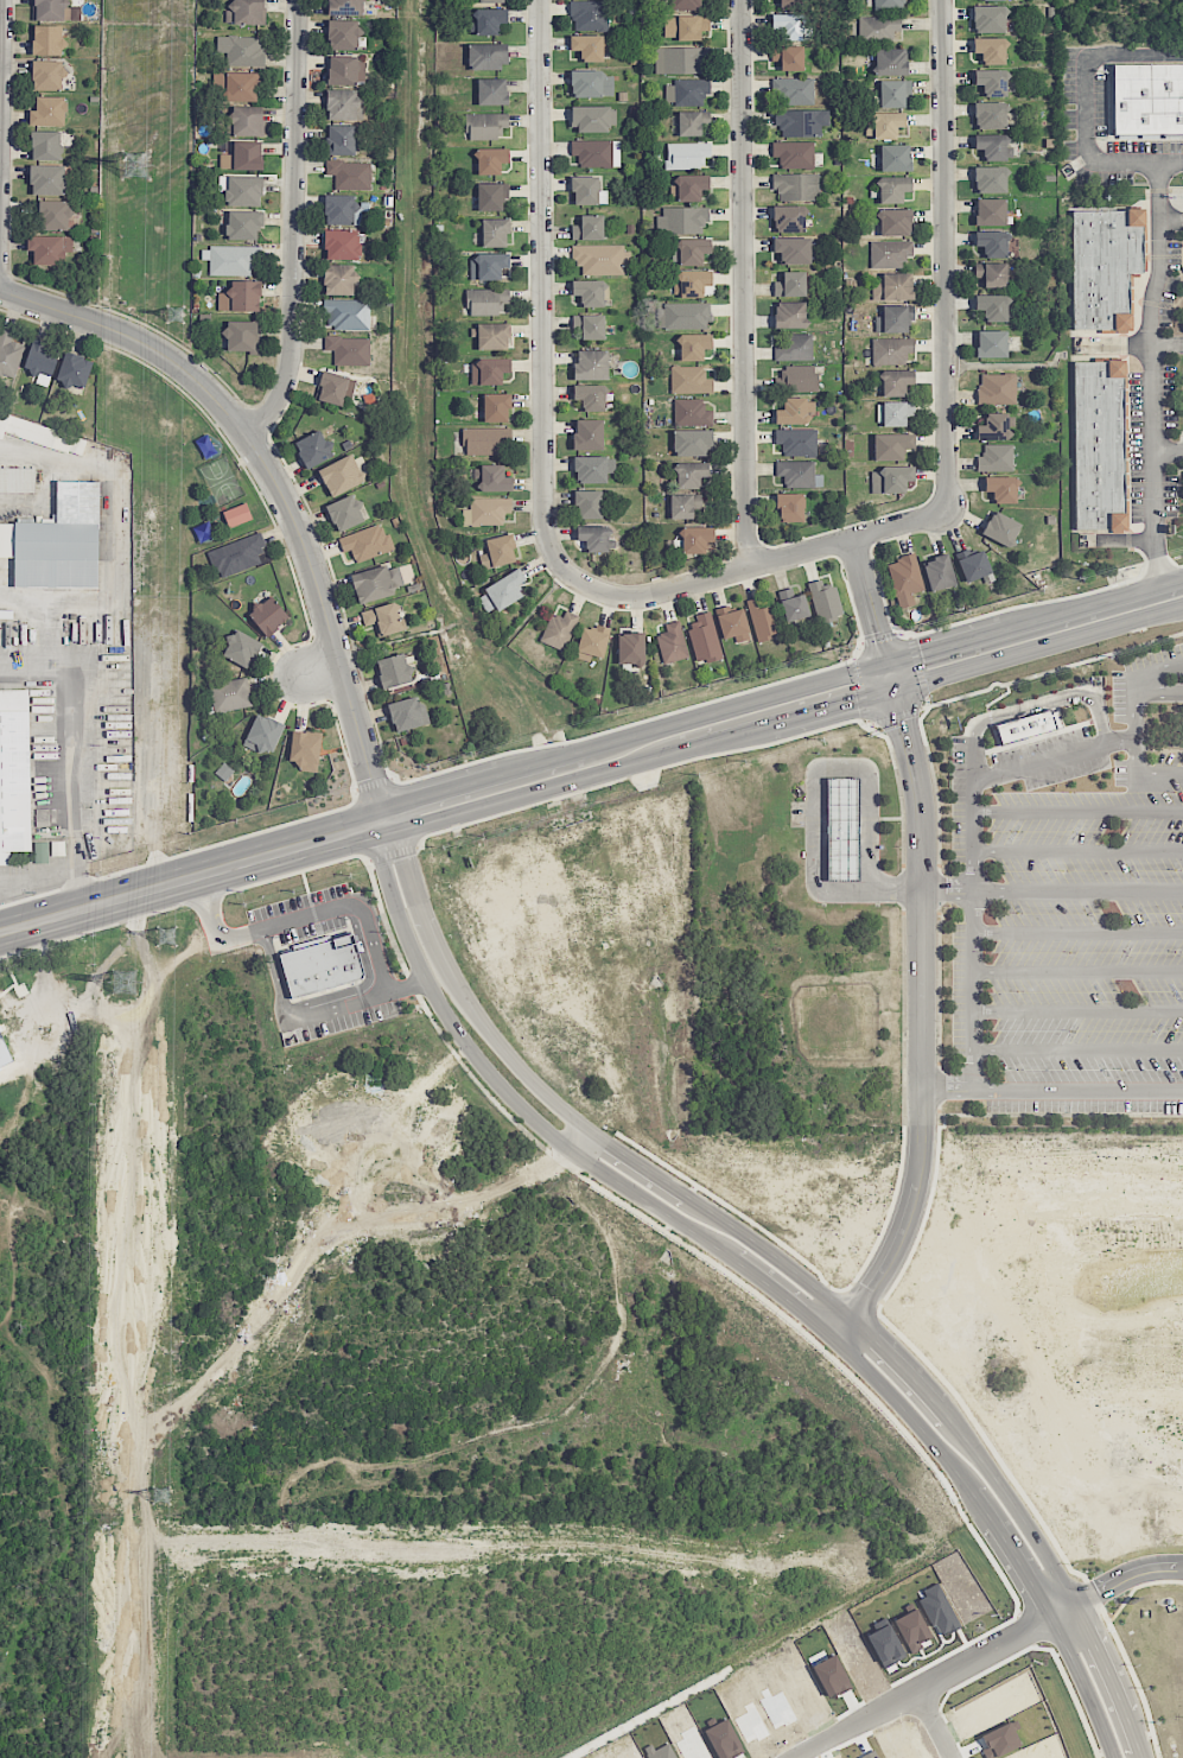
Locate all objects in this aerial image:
building: (998, 0)
building: (490, 1)
building: (685, 4)
building: (789, 4)
building: (888, 5)
building: (345, 7)
building: (51, 9)
building: (246, 12)
building: (589, 14)
building: (988, 18)
building: (486, 20)
building: (685, 26)
building: (789, 26)
building: (877, 28)
building: (342, 34)
building: (47, 39)
building: (587, 46)
building: (241, 49)
building: (990, 49)
building: (488, 56)
building: (788, 57)
building: (680, 59)
building: (890, 62)
building: (345, 70)
building: (47, 75)
building: (586, 82)
building: (991, 82)
building: (241, 87)
building: (794, 90)
building: (491, 91)
building: (686, 91)
building: (892, 93)
building: (1147, 97)
parking lot: (1071, 100)
parking lot: (1101, 103)
building: (343, 104)
road: (1087, 107)
building: (49, 112)
building: (990, 115)
road: (2, 119)
building: (590, 119)
building: (244, 120)
building: (692, 122)
building: (801, 122)
building: (485, 125)
building: (886, 125)
building: (339, 139)
building: (45, 145)
parking lot: (1145, 145)
building: (990, 146)
building: (592, 153)
building: (793, 153)
building: (686, 154)
building: (242, 156)
building: (895, 157)
building: (490, 160)
power tower: (140, 161)
building: (349, 173)
parking lot: (1106, 177)
building: (47, 179)
building: (988, 179)
building: (795, 186)
building: (892, 189)
building: (243, 190)
building: (585, 190)
building: (490, 197)
building: (341, 210)
building: (988, 211)
building: (53, 215)
building: (788, 217)
building: (681, 220)
building: (893, 221)
road: (1172, 222)
building: (243, 224)
road: (288, 224)
building: (587, 228)
building: (494, 233)
building: (991, 243)
building: (342, 245)
building: (49, 248)
building: (791, 249)
building: (689, 250)
building: (889, 253)
road: (946, 254)
building: (598, 258)
building: (233, 260)
building: (1104, 264)
building: (488, 265)
building: (991, 273)
building: (338, 279)
parking lot: (1174, 279)
building: (692, 283)
building: (790, 284)
road: (743, 285)
building: (891, 286)
building: (589, 292)
road: (542, 293)
building: (240, 297)
building: (486, 300)
building: (991, 306)
building: (346, 313)
building: (789, 315)
power tower: (174, 316)
building: (682, 316)
building: (893, 318)
building: (589, 325)
building: (241, 336)
building: (491, 336)
building: (990, 343)
road: (1168, 343)
building: (693, 345)
building: (794, 348)
building: (349, 350)
building: (890, 350)
building: (9, 354)
building: (40, 358)
building: (591, 364)
building: (74, 370)
building: (489, 370)
road: (1152, 372)
building: (796, 379)
building: (689, 380)
building: (896, 381)
building: (335, 387)
building: (996, 388)
parking lot: (1170, 395)
building: (590, 396)
building: (496, 407)
building: (691, 411)
building: (791, 411)
building: (896, 412)
building: (992, 426)
building: (42, 433)
building: (587, 434)
building: (483, 439)
building: (691, 442)
building: (797, 442)
building: (1099, 443)
building: (891, 445)
parking lot: (1138, 446)
building: (313, 449)
road: (1169, 450)
building: (994, 457)
building: (590, 469)
building: (795, 472)
building: (688, 474)
building: (341, 475)
building: (494, 478)
building: (17, 480)
building: (891, 480)
park: (208, 483)
road: (275, 488)
building: (1000, 488)
parking lot: (1171, 494)
road: (114, 504)
building: (586, 504)
building: (683, 504)
building: (788, 507)
building: (488, 510)
building: (345, 513)
building: (236, 515)
building: (1000, 528)
building: (593, 538)
building: (695, 539)
building: (57, 540)
building: (365, 542)
building: (497, 551)
building: (235, 554)
building: (972, 564)
road: (759, 566)
building: (937, 572)
building: (904, 578)
building: (376, 582)
building: (504, 589)
road: (1128, 592)
road: (24, 597)
building: (823, 599)
road: (871, 601)
building: (791, 604)
road: (1017, 605)
building: (266, 615)
building: (762, 618)
road: (1038, 620)
building: (732, 623)
traffic signals: (879, 629)
building: (558, 630)
building: (704, 637)
road: (878, 639)
building: (591, 642)
building: (670, 642)
road: (943, 647)
building: (241, 648)
building: (630, 648)
traffic signals: (921, 654)
road: (23, 658)
road: (1159, 668)
road: (918, 669)
road: (1054, 669)
building: (393, 671)
road: (320, 672)
road: (1159, 690)
building: (229, 694)
traffic signals: (856, 699)
road: (994, 699)
road: (1049, 699)
building: (407, 713)
road: (896, 713)
road: (642, 719)
road: (783, 719)
traffic signals: (902, 722)
road: (1137, 724)
building: (1023, 725)
building: (263, 732)
road: (631, 736)
road: (78, 742)
building: (304, 748)
road: (713, 754)
road: (1055, 755)
building: (14, 773)
road: (1159, 773)
traffic signals: (370, 776)
road: (374, 783)
road: (814, 795)
traffic signals: (414, 799)
road: (1077, 810)
building: (841, 827)
gas station: (841, 827)
traffic signals: (345, 832)
road: (224, 840)
road: (301, 844)
road: (1077, 849)
building: (40, 852)
road: (393, 853)
traffic signals: (403, 855)
road: (40, 874)
road: (196, 875)
road: (151, 888)
road: (902, 888)
road: (947, 889)
road: (1077, 889)
parking lot: (1070, 895)
road: (214, 896)
road: (195, 901)
road: (310, 903)
road: (973, 910)
road: (64, 914)
road: (368, 924)
road: (1077, 931)
power tower: (166, 938)
building: (322, 965)
road: (274, 971)
road: (1077, 971)
power tower: (127, 980)
road: (364, 983)
road: (407, 986)
road: (1077, 1009)
road: (921, 1011)
road: (112, 1013)
road: (1077, 1048)
building: (4, 1053)
road: (946, 1084)
road: (1076, 1089)
road: (1051, 1159)
road: (589, 1180)
road: (876, 1240)
road: (786, 1264)
road: (902, 1268)
road: (751, 1275)
road: (998, 1402)
road: (1080, 1439)
road: (1113, 1483)
road: (1158, 1483)
power tower: (163, 1497)
road: (1114, 1581)
road: (926, 1686)
road: (939, 1722)

